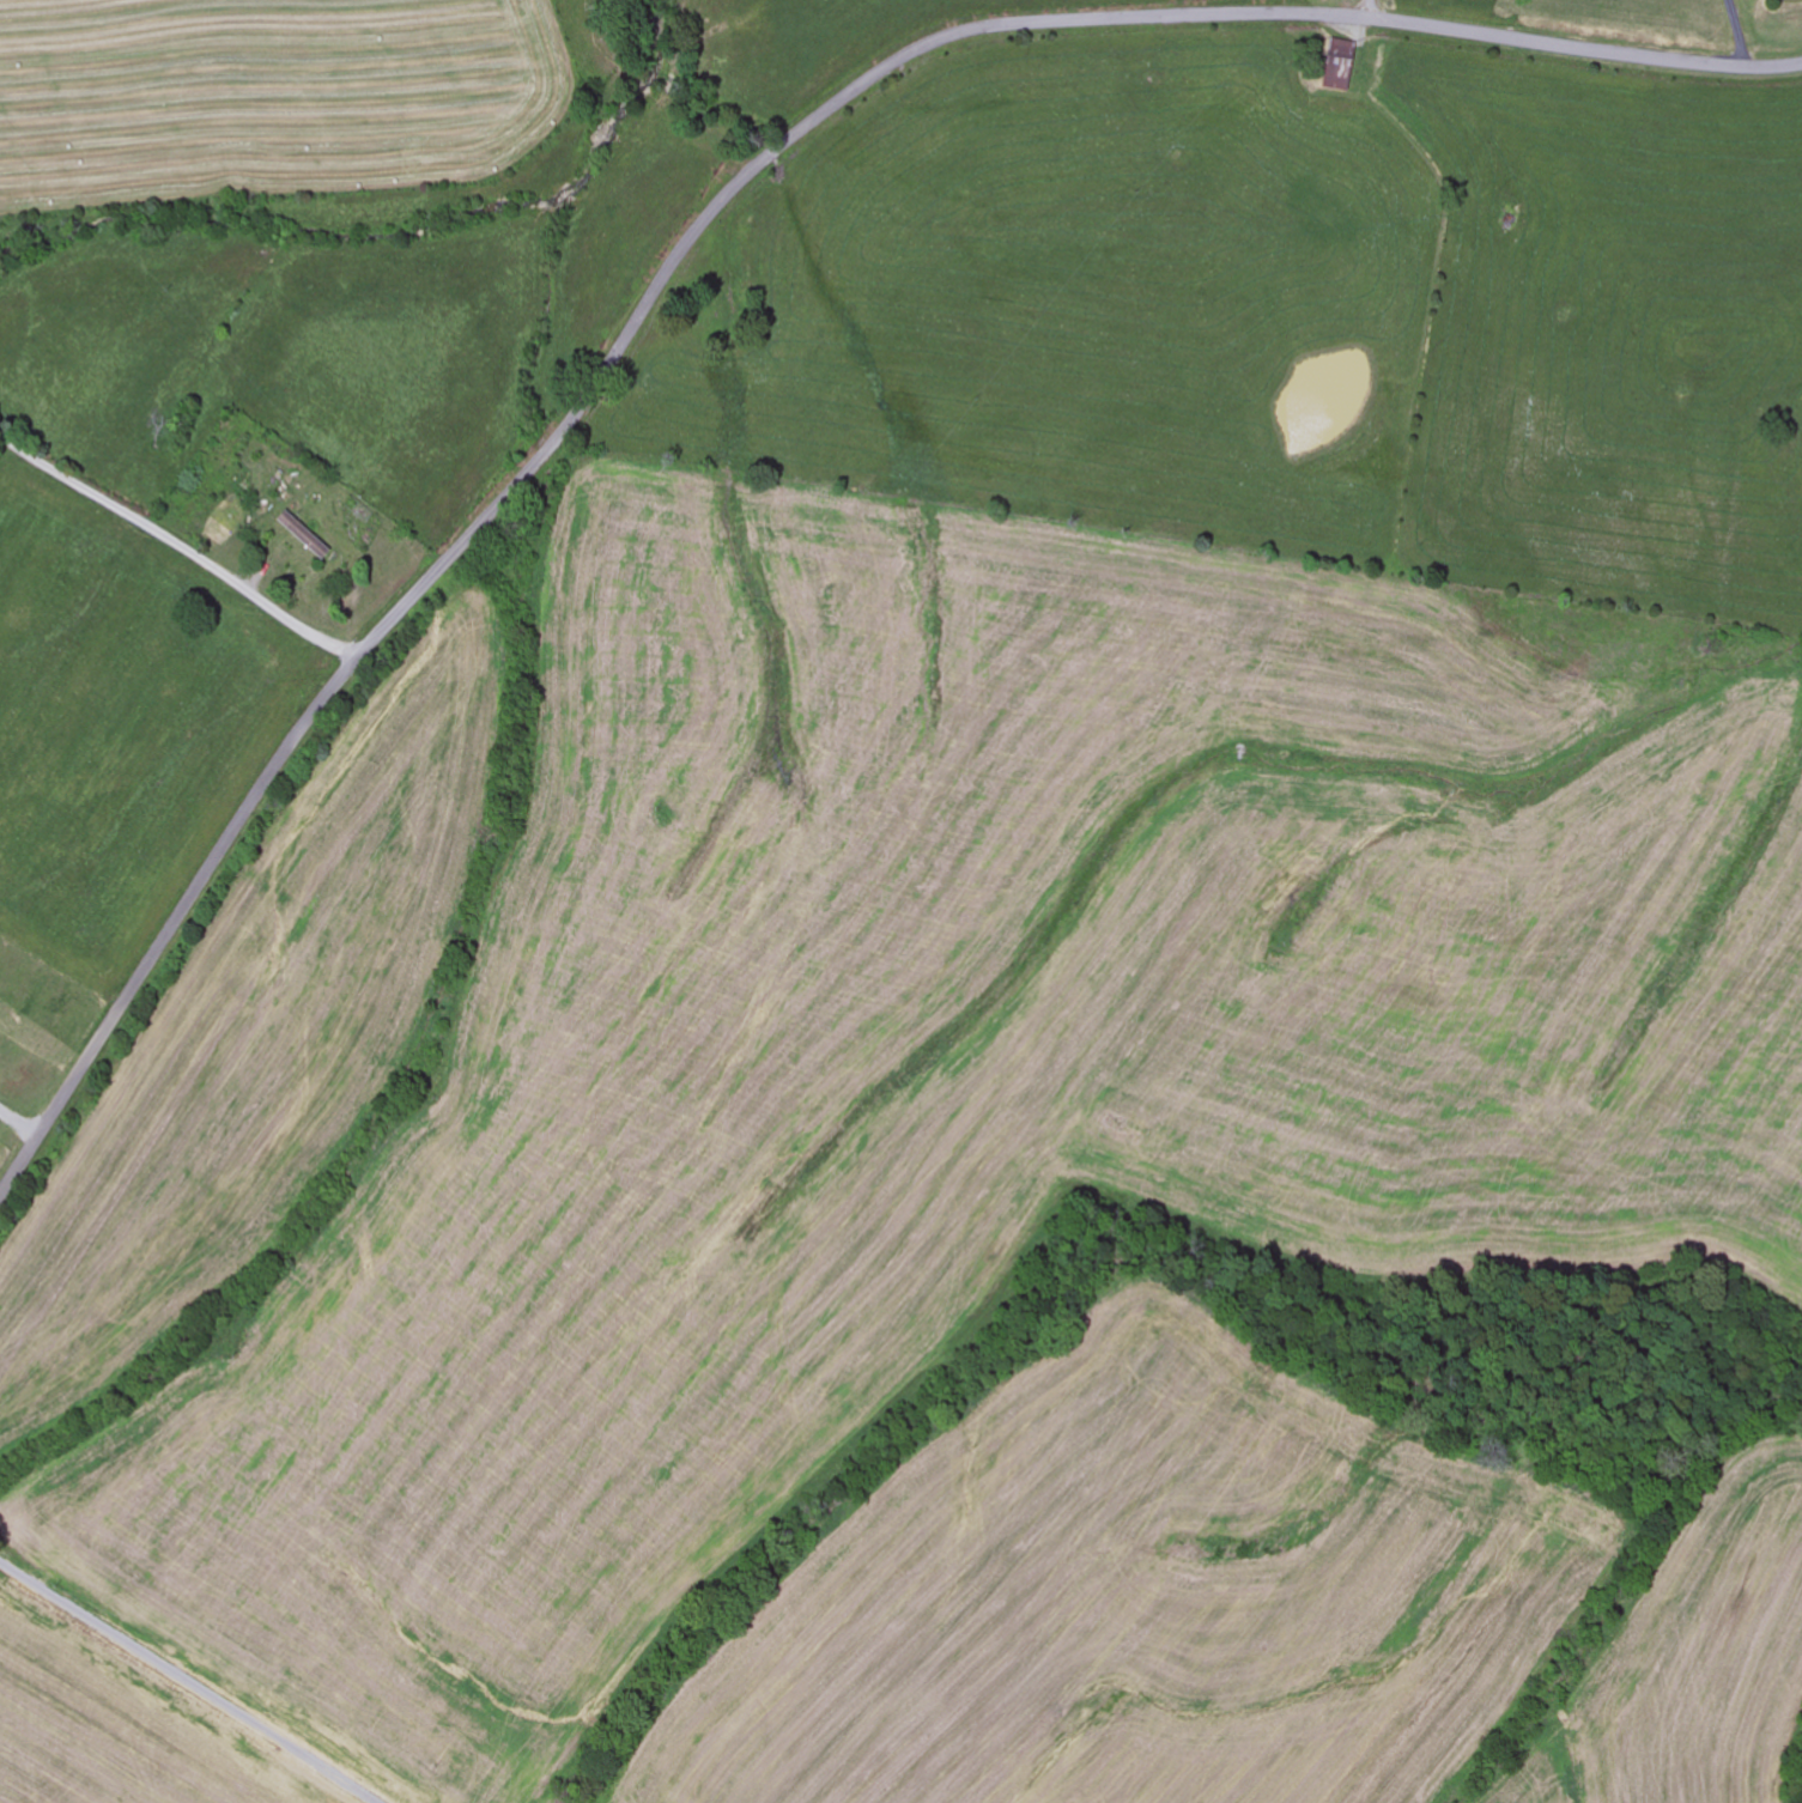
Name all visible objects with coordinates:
building: (1335, 67)
road: (693, 236)
road: (178, 546)
road: (188, 1683)

